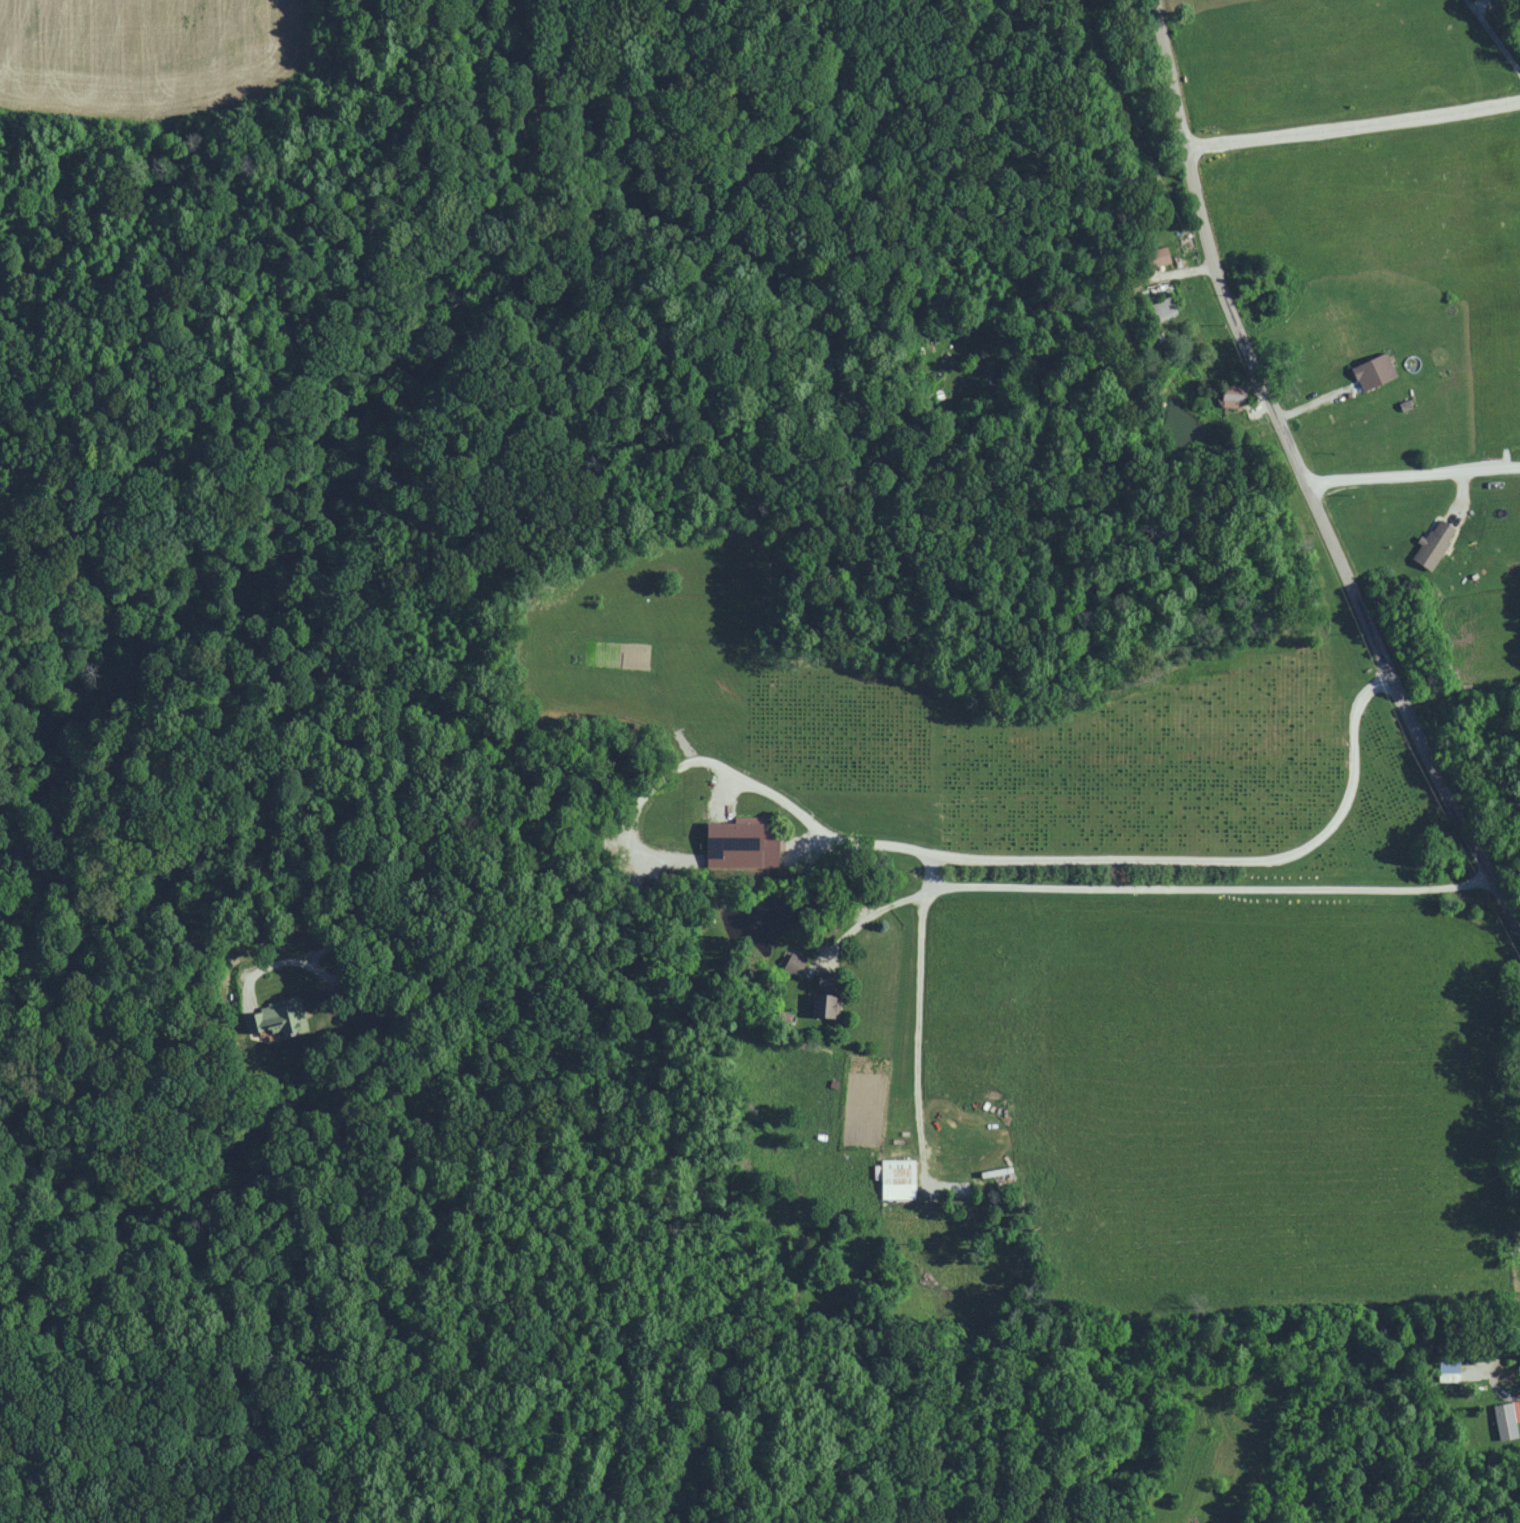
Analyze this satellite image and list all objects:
road: (1352, 124)
building: (1155, 255)
building: (1162, 308)
building: (1370, 370)
building: (1226, 394)
road: (1414, 469)
road: (1304, 475)
building: (1430, 544)
road: (816, 827)
building: (739, 846)
road: (1134, 885)
building: (790, 963)
building: (820, 1005)
building: (280, 1018)
road: (918, 1035)
building: (894, 1179)
building: (1445, 1364)
building: (1504, 1419)

